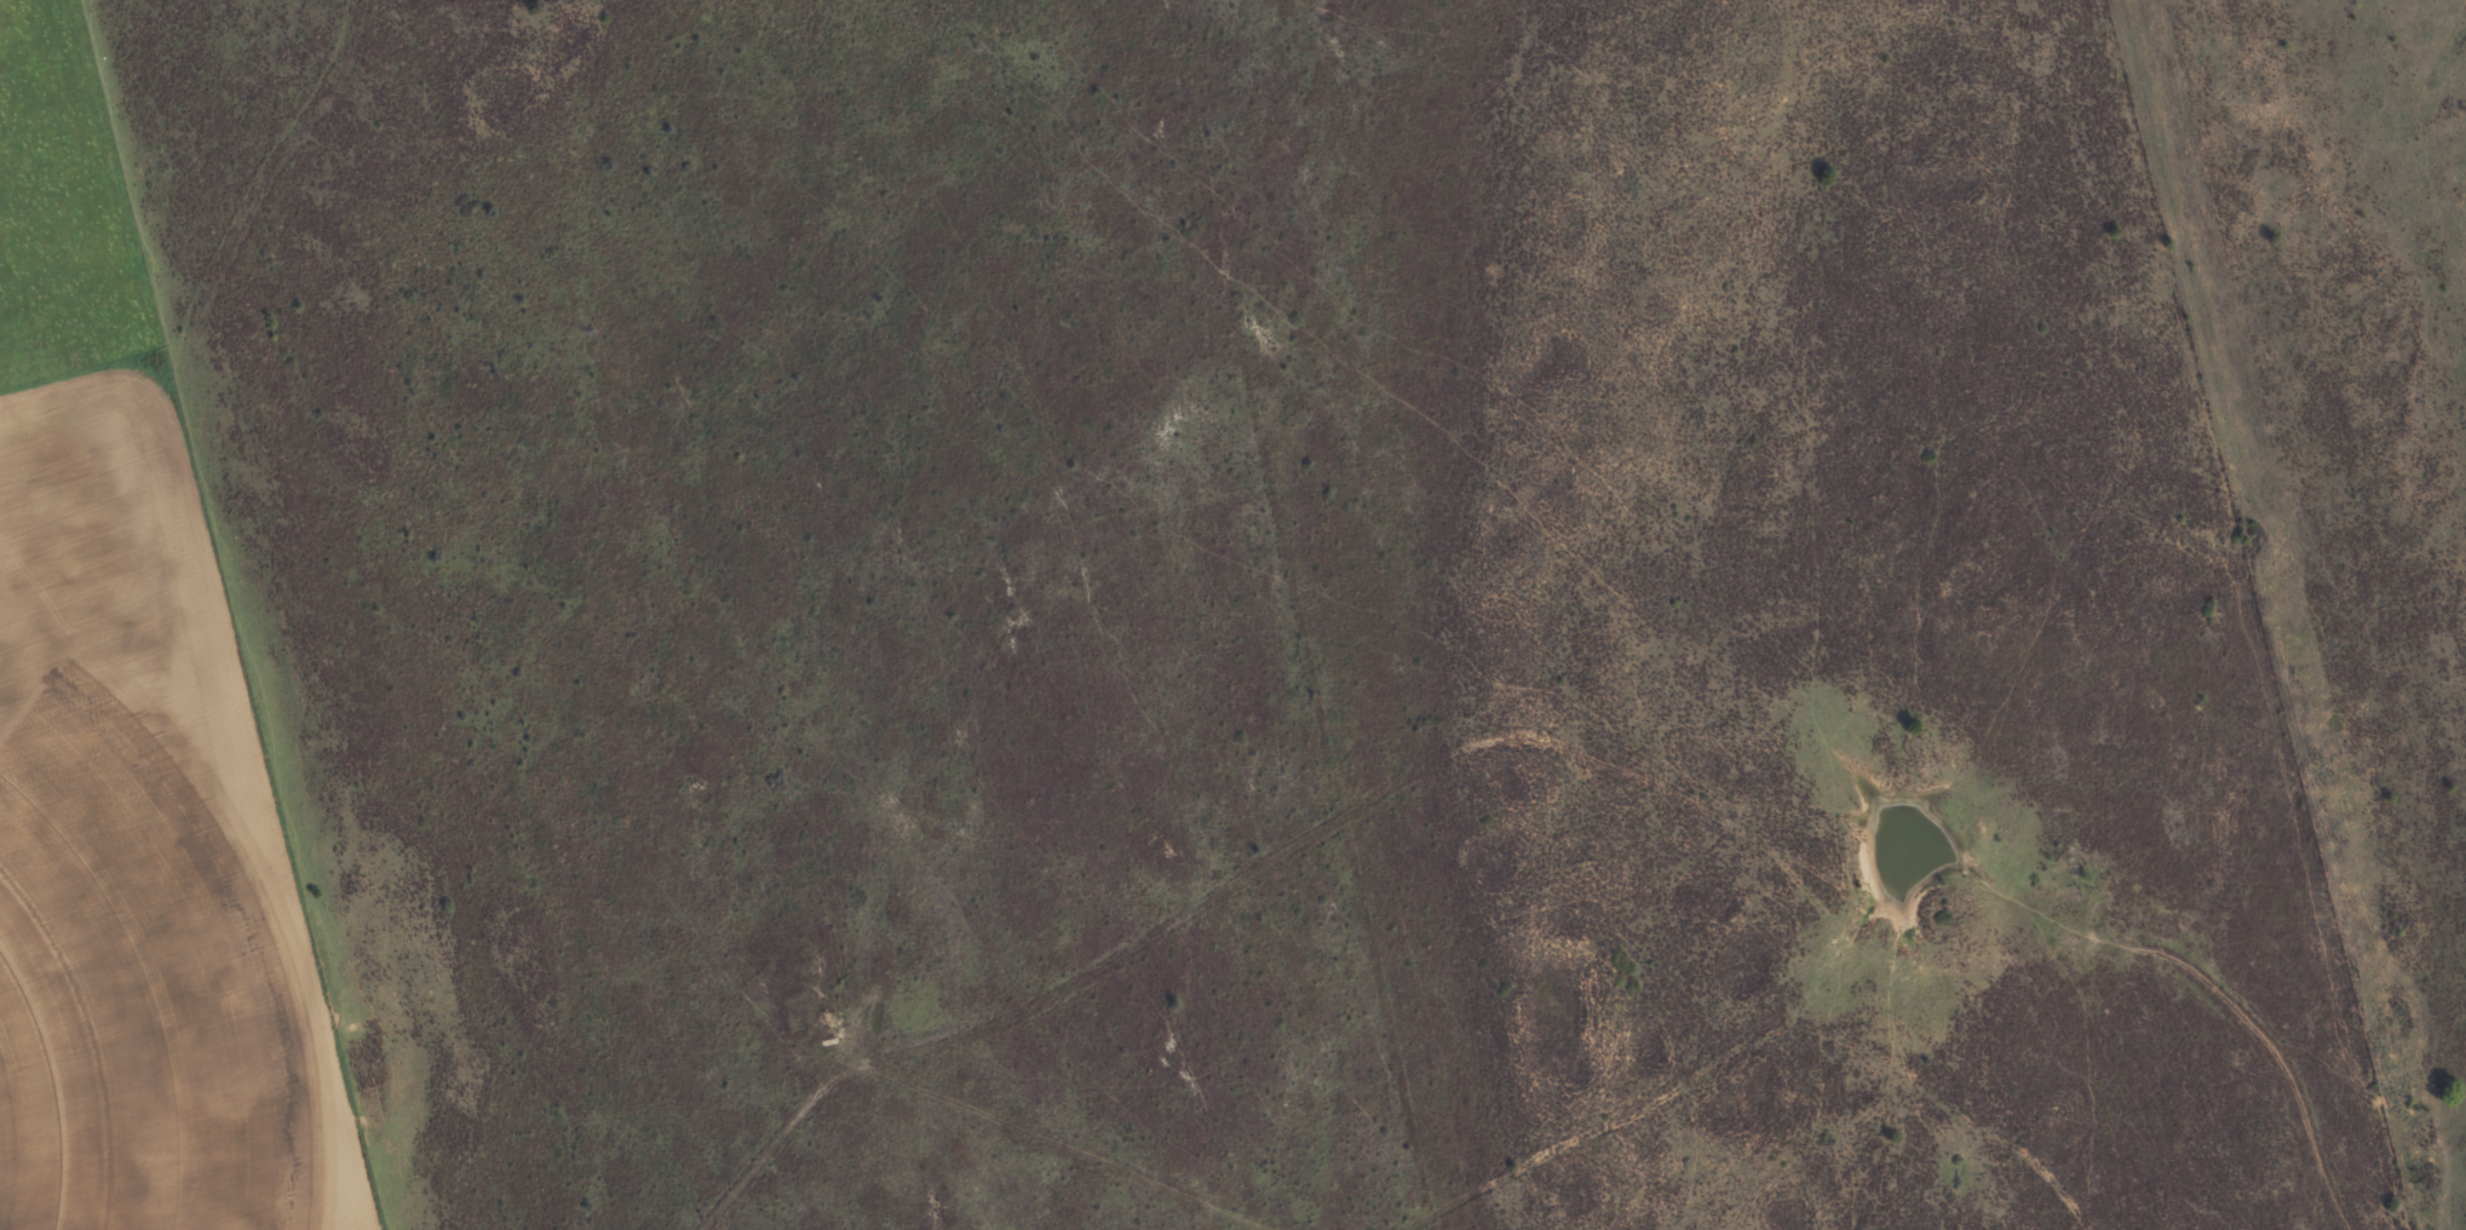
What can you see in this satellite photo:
road: (1758, 1034)
road: (1062, 1137)
road: (763, 1149)

